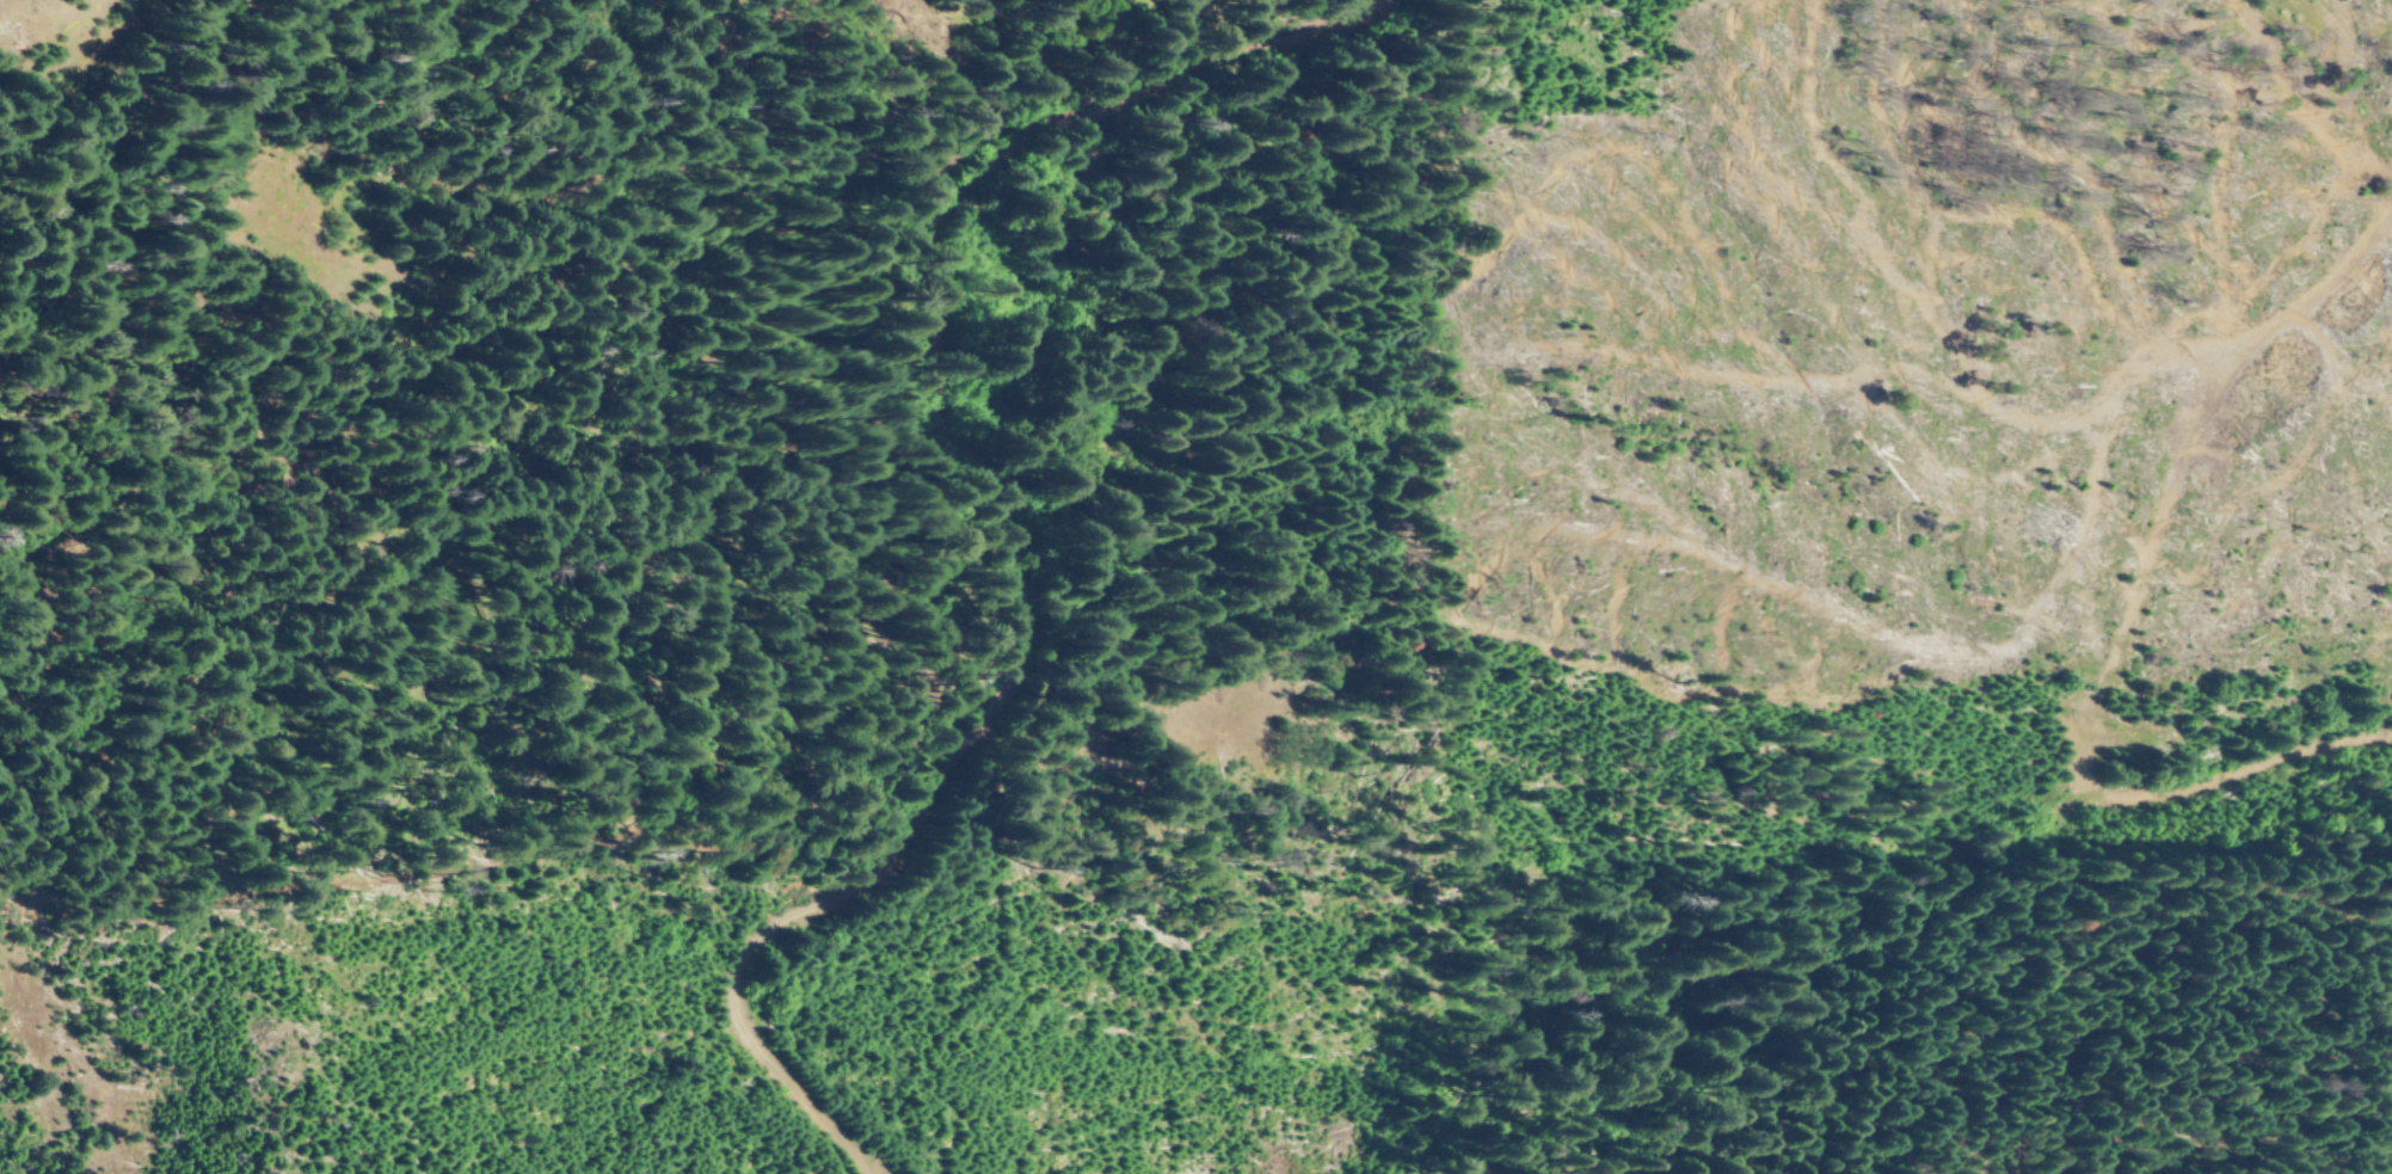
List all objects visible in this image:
road: (1008, 527)
road: (2079, 718)

